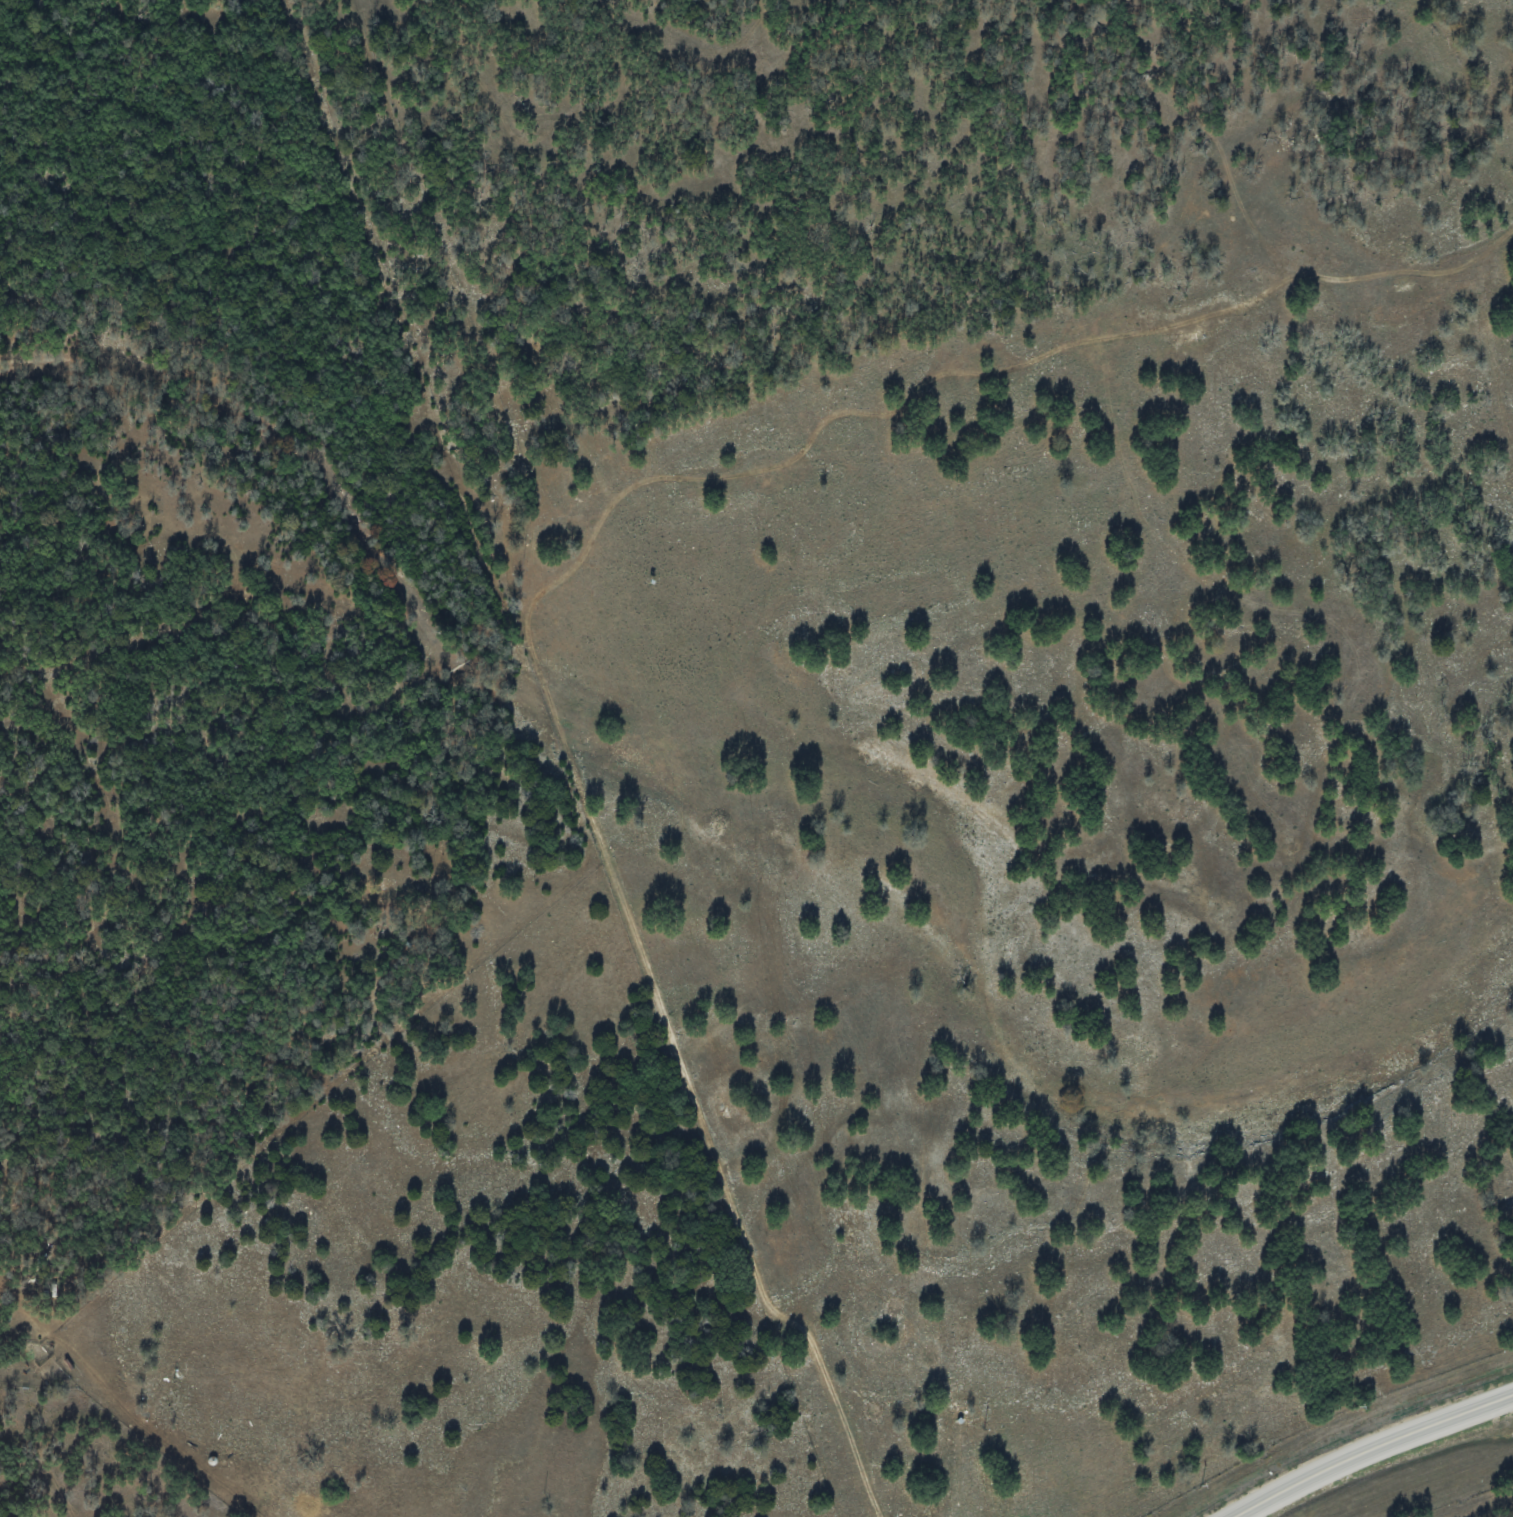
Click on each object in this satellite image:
road: (1370, 1447)

